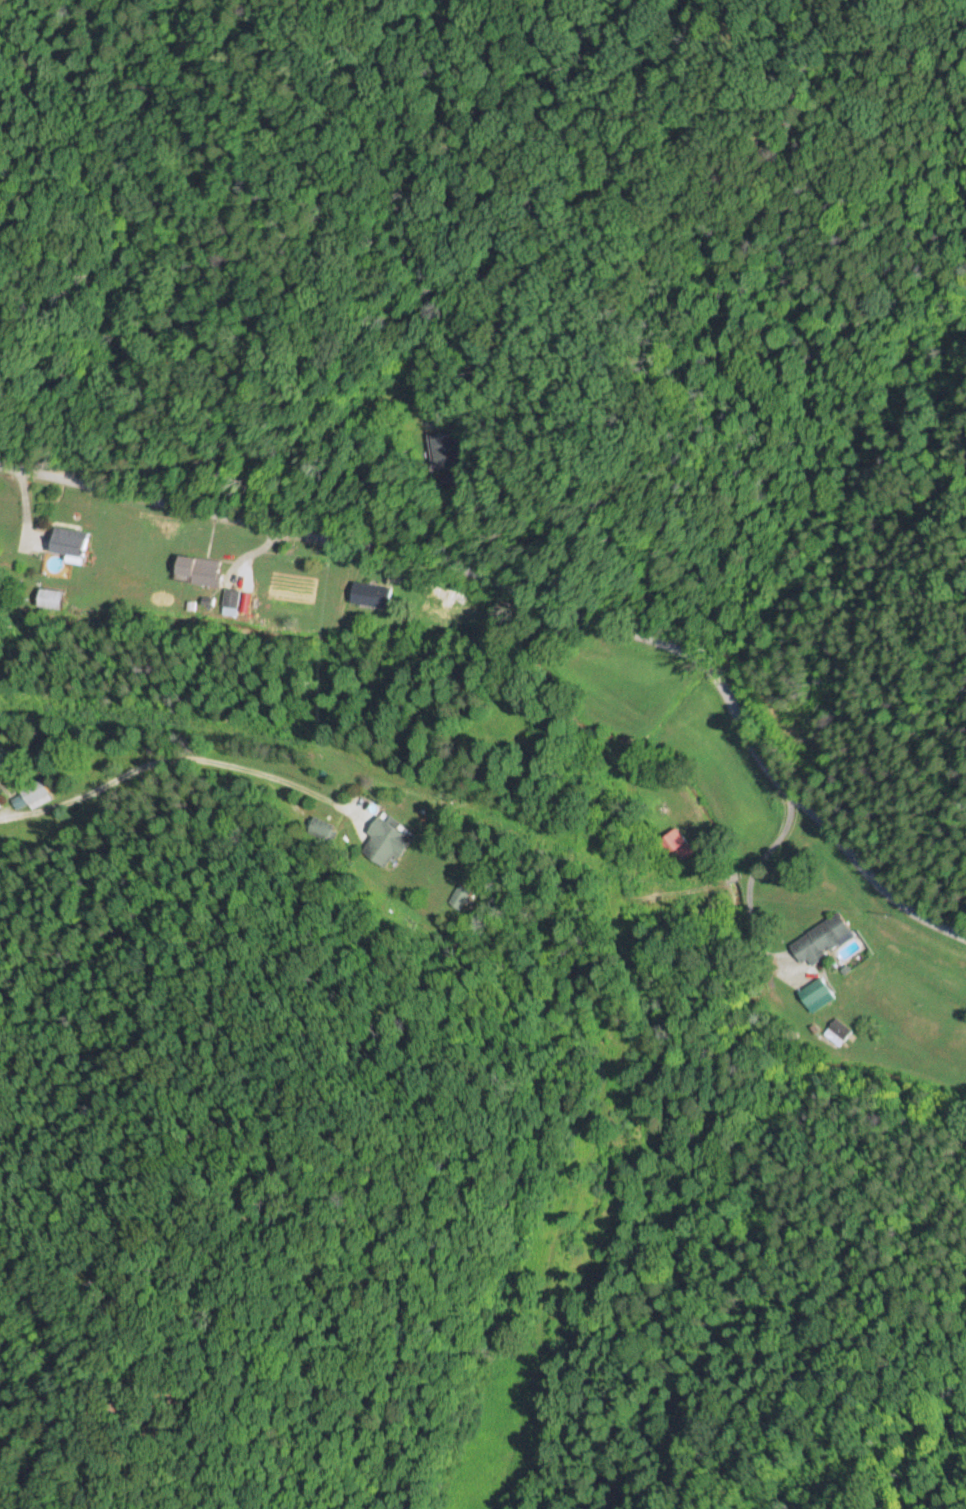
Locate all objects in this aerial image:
building: (444, 447)
building: (66, 540)
building: (197, 568)
building: (370, 593)
building: (50, 597)
road: (536, 598)
building: (230, 600)
building: (36, 792)
building: (0, 804)
building: (383, 840)
building: (674, 845)
building: (460, 895)
building: (819, 938)
building: (815, 992)
road: (255, 994)
building: (837, 1030)

